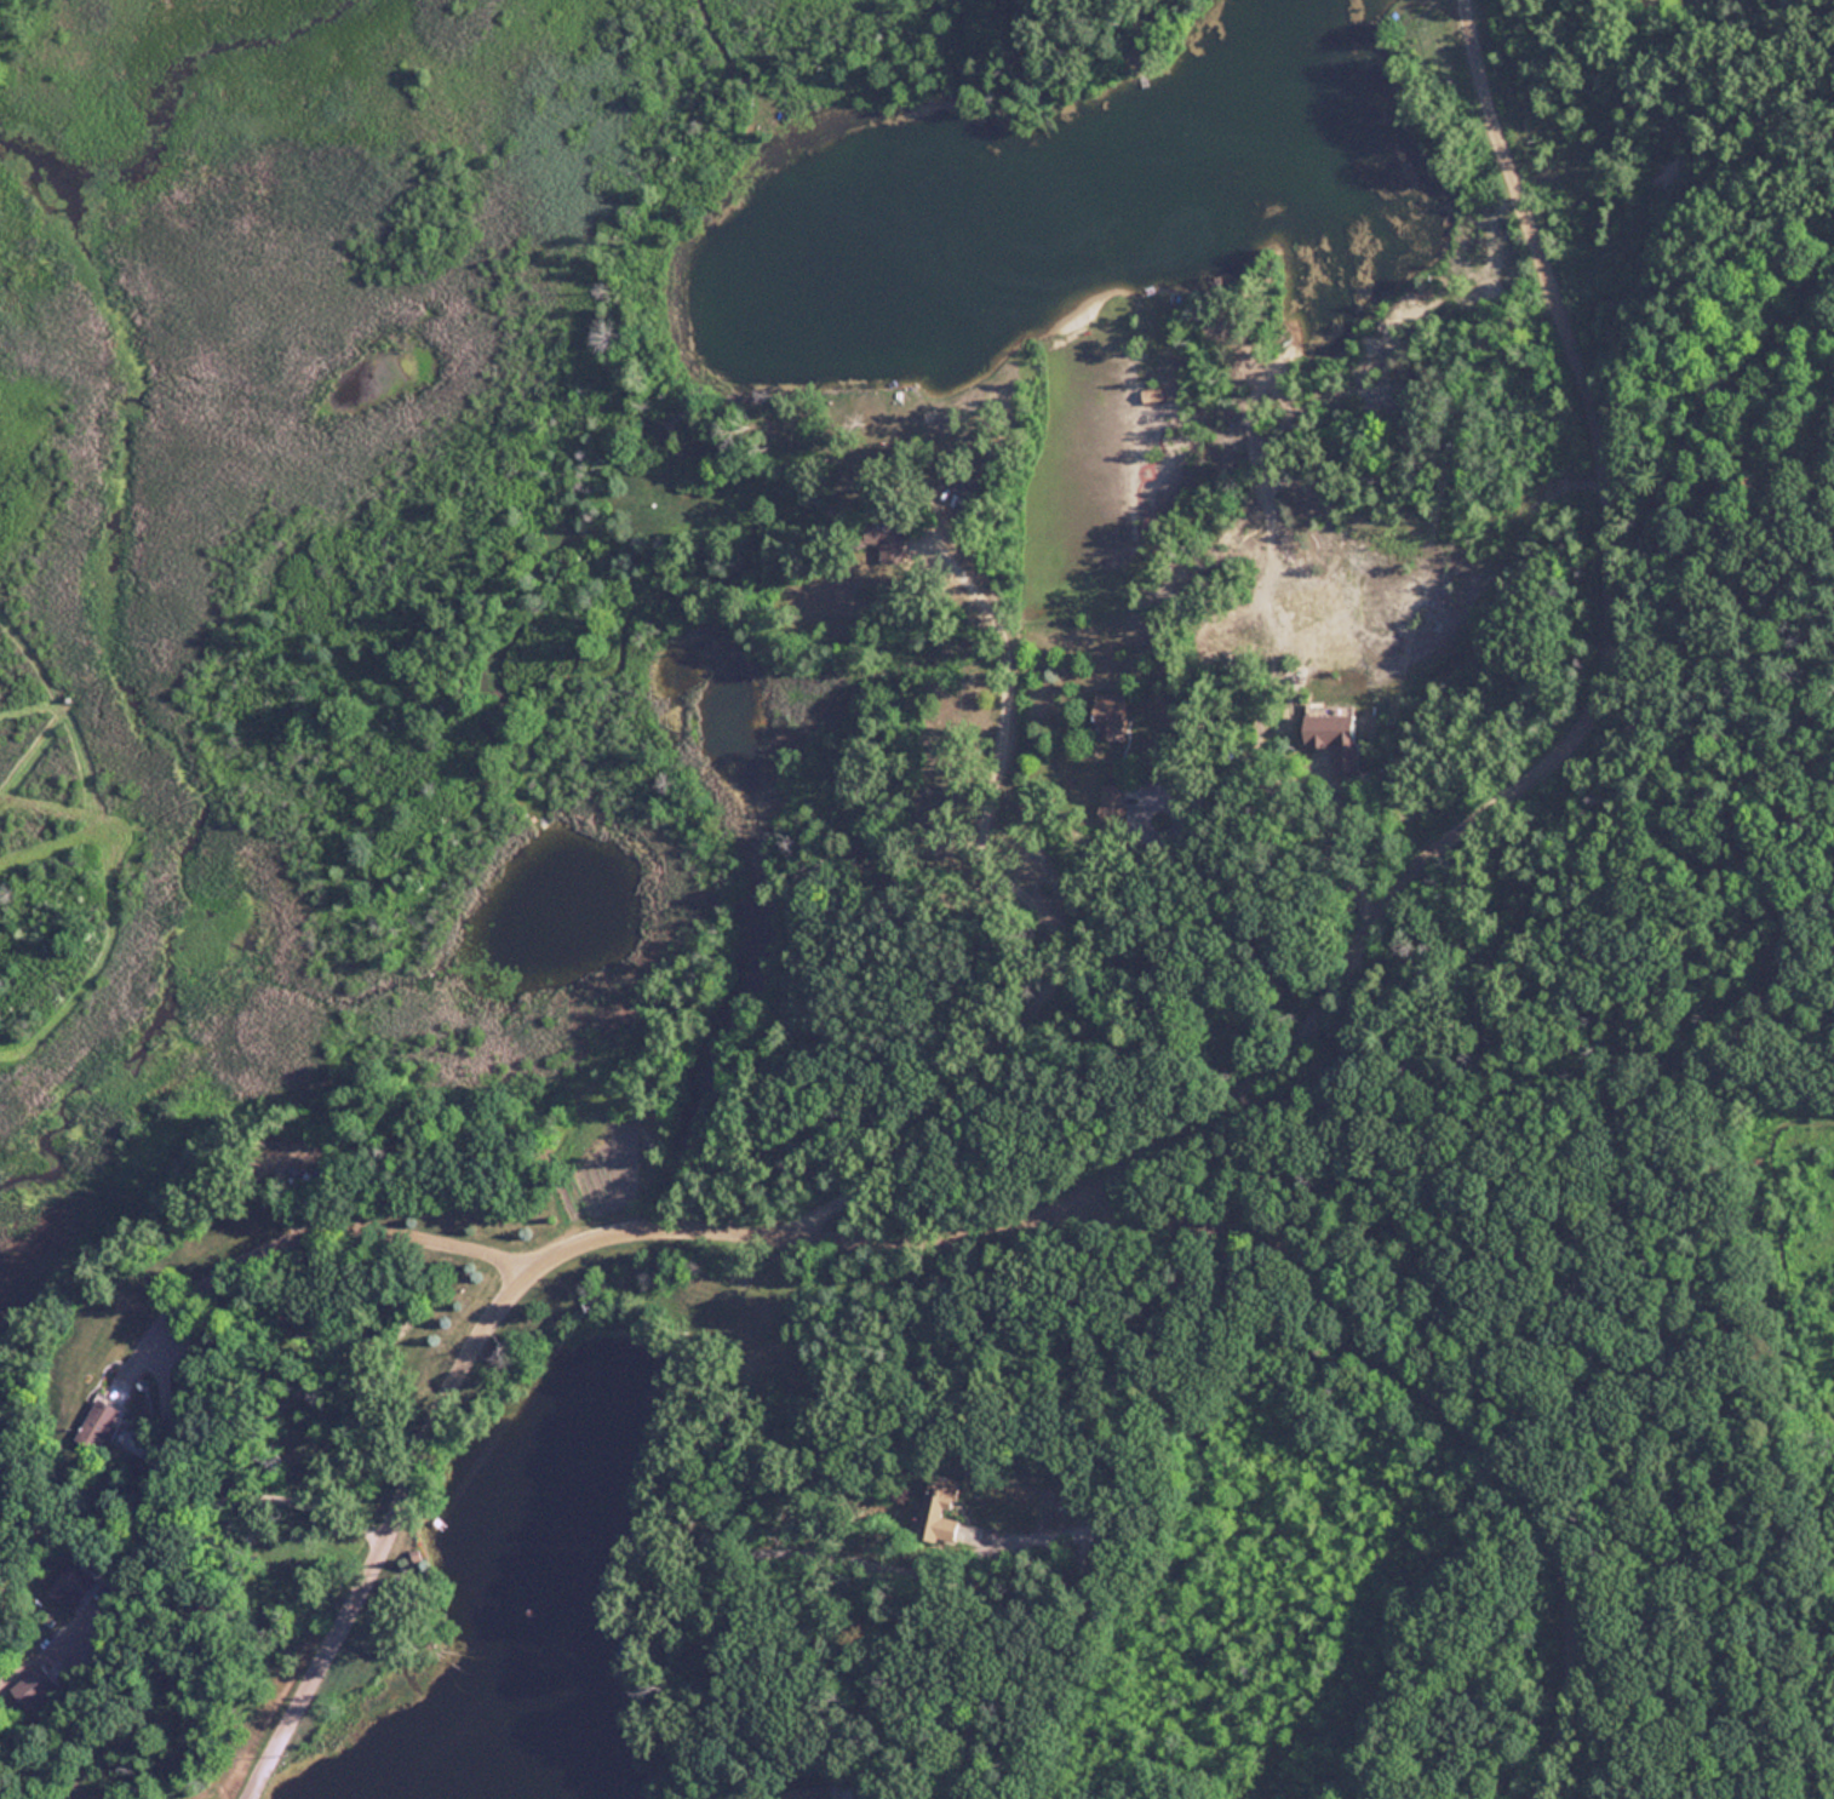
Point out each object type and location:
building: (1151, 394)
road: (1604, 510)
building: (876, 527)
building: (1107, 715)
building: (1108, 801)
road: (1243, 1107)
road: (740, 1216)
road: (1364, 1289)
building: (98, 1422)
building: (940, 1489)
building: (71, 1583)
building: (38, 1681)
building: (806, 1793)

